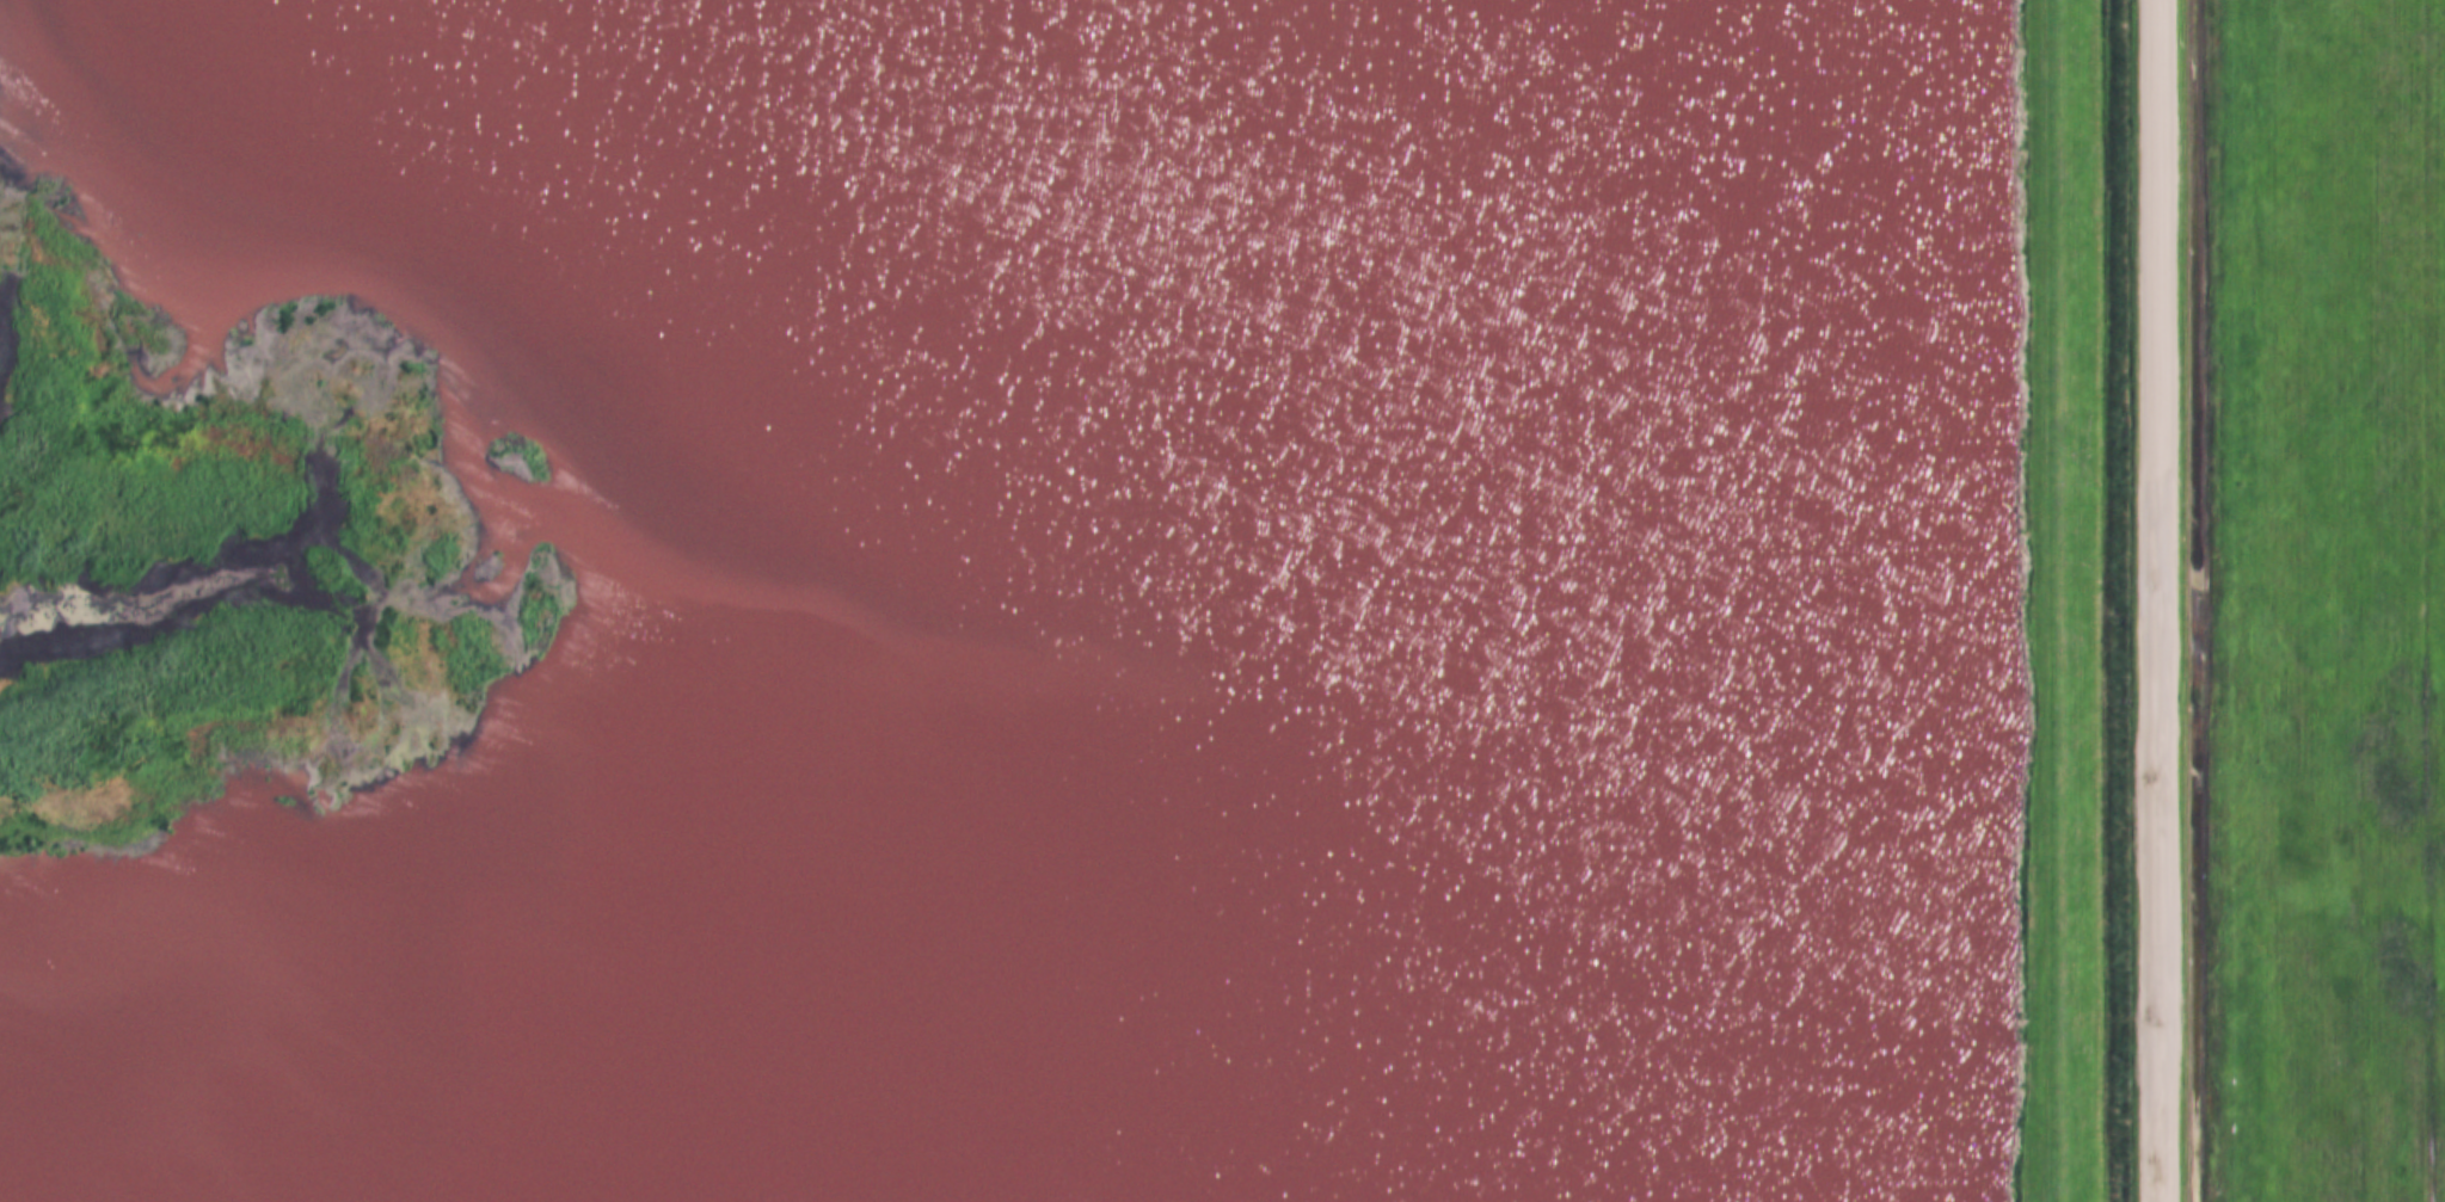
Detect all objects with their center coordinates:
road: (2157, 600)

